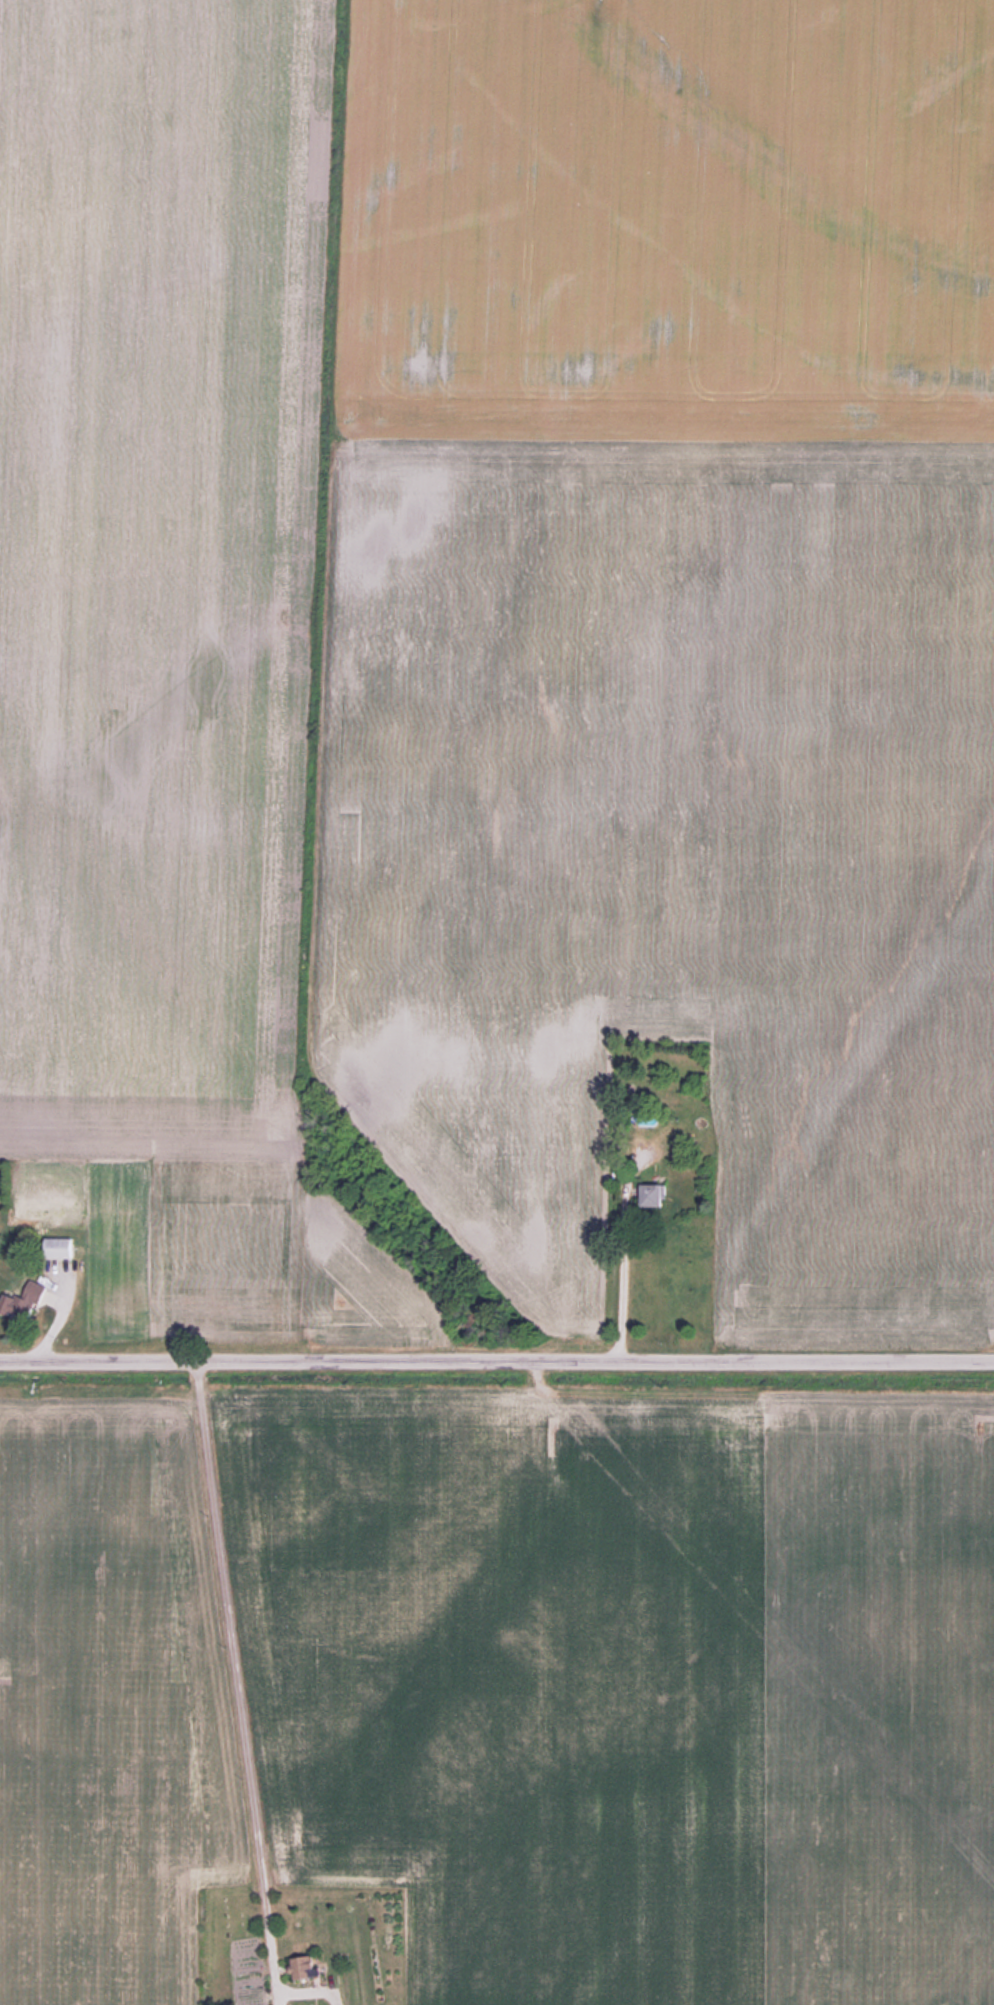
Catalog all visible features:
building: (653, 1195)
building: (58, 1248)
road: (621, 1274)
building: (23, 1301)
road: (496, 1354)
road: (236, 1679)
building: (305, 1967)

